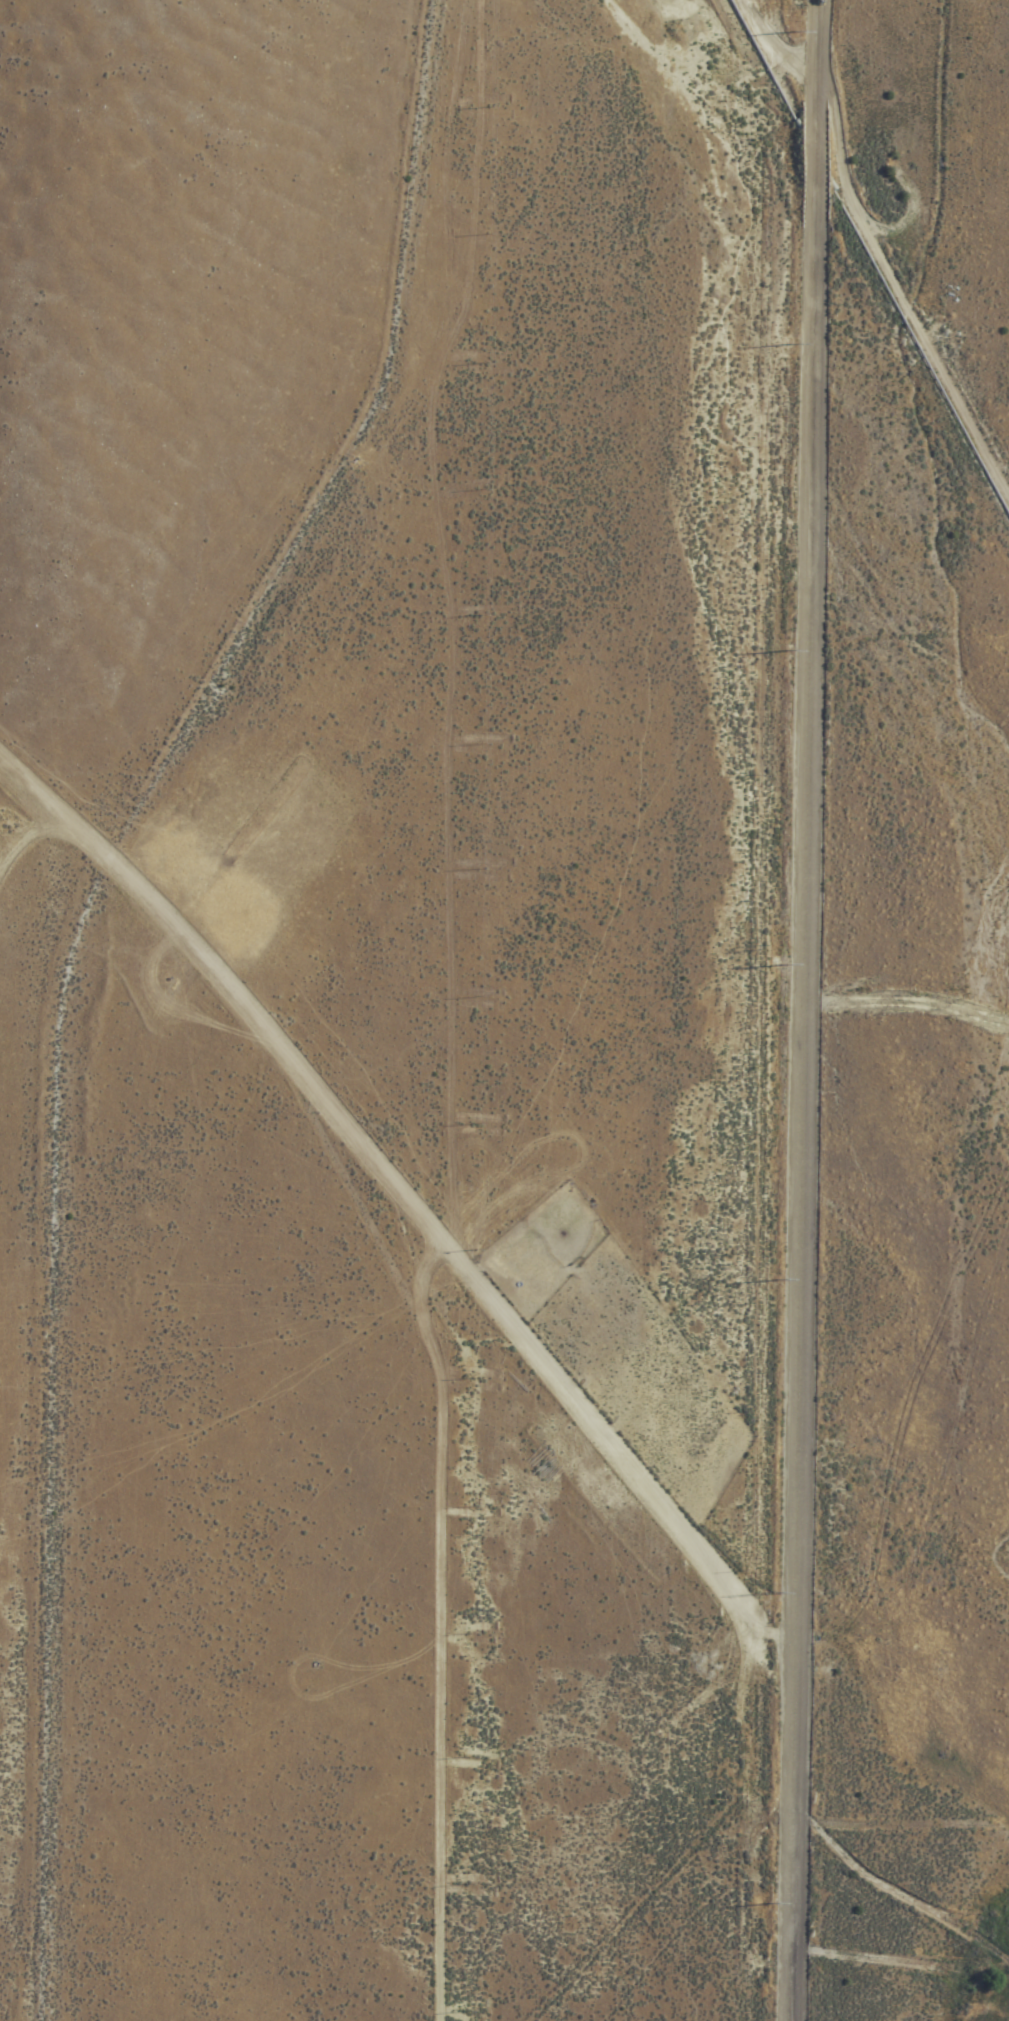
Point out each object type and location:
road: (802, 1010)
road: (414, 1175)

